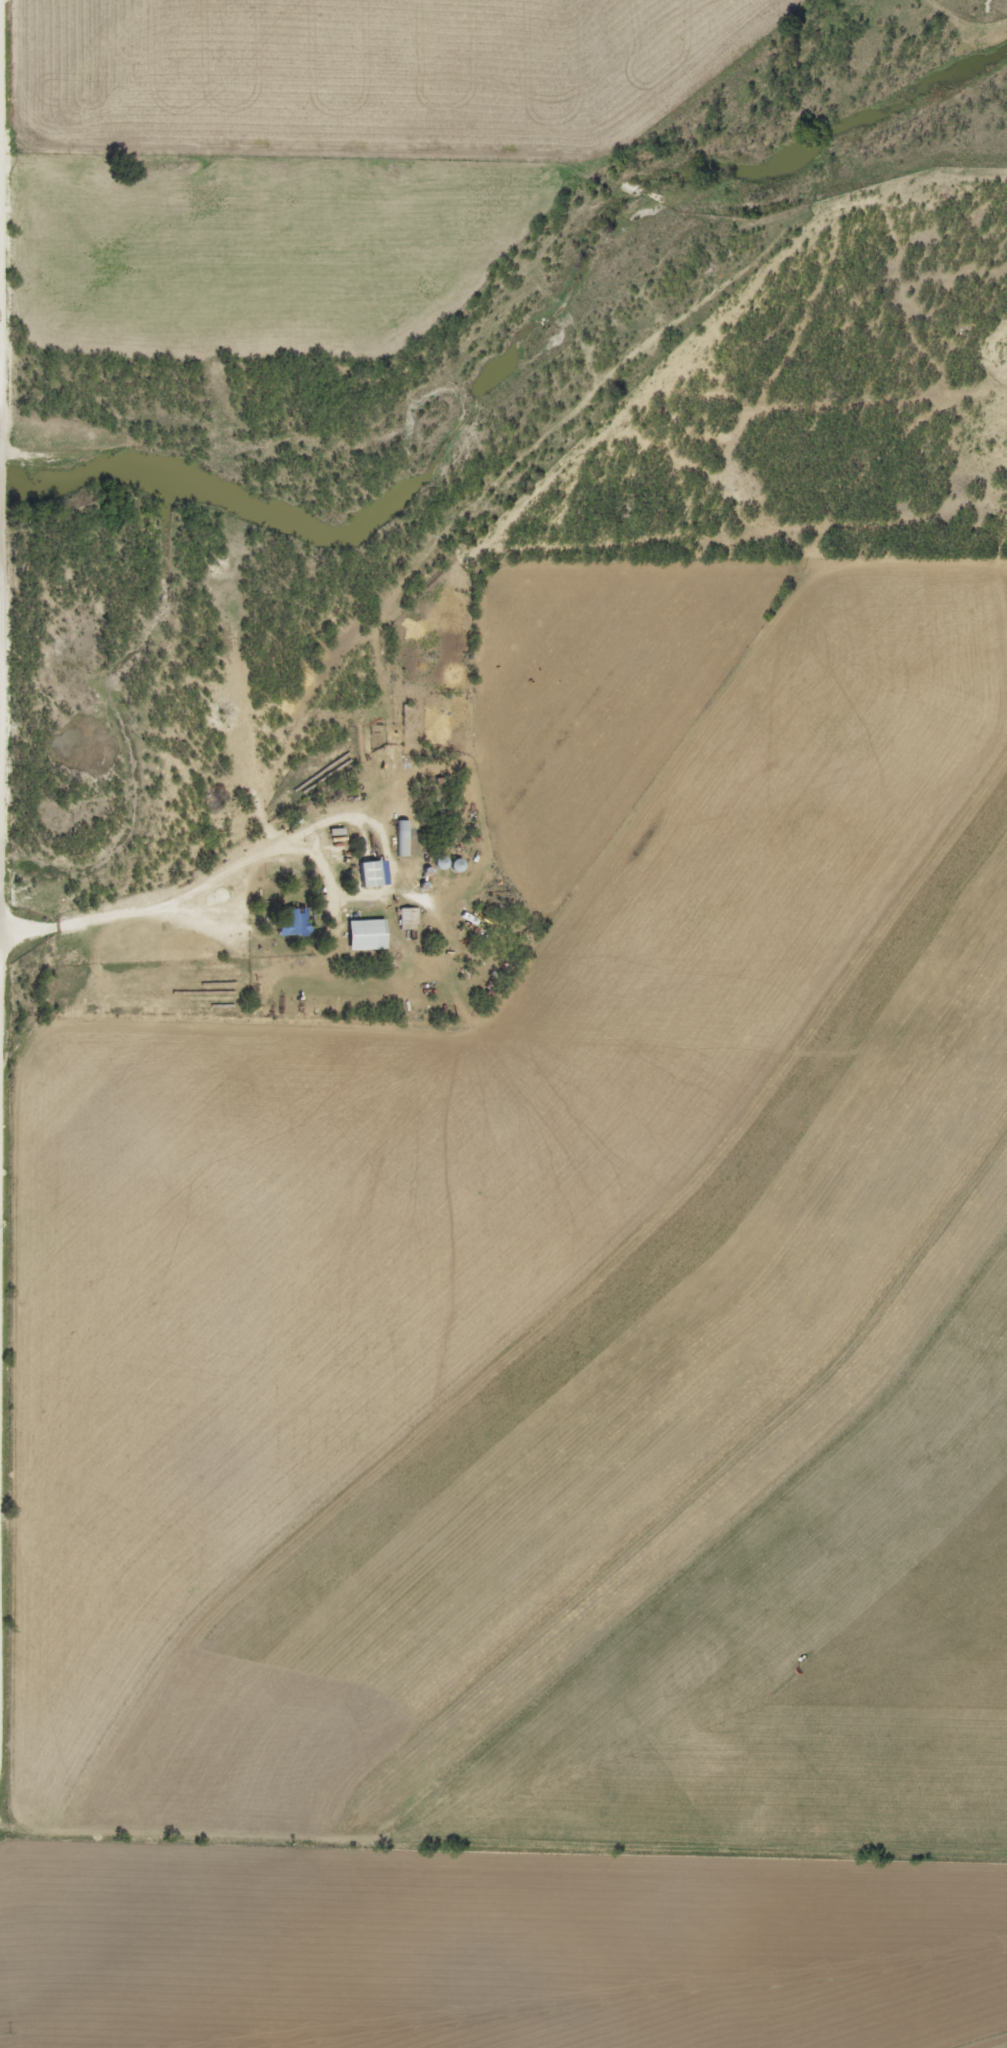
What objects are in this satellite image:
road: (5, 223)
road: (3, 474)
building: (405, 837)
building: (374, 873)
road: (1, 891)
building: (411, 918)
building: (297, 922)
building: (371, 934)

